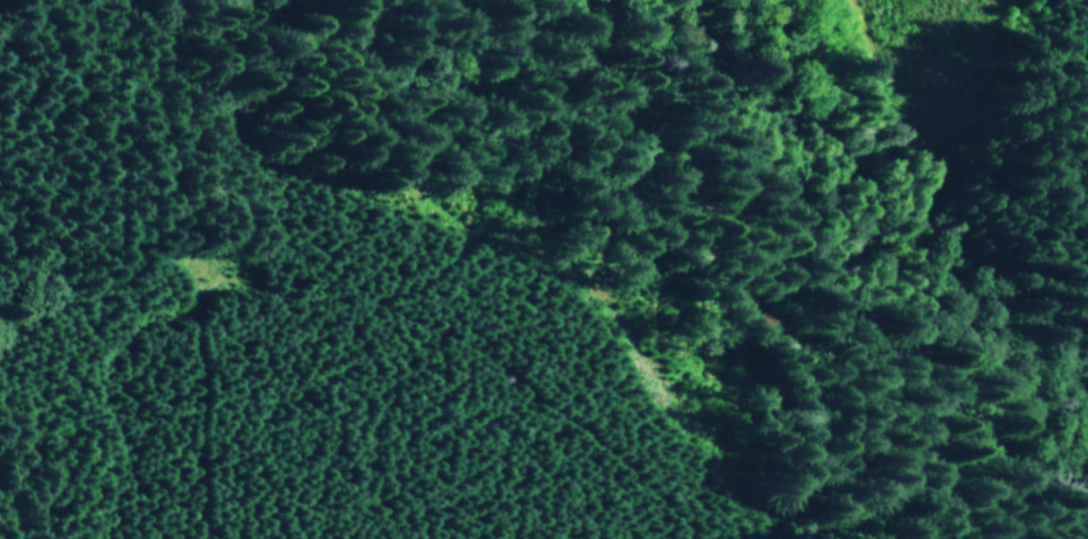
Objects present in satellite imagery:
road: (912, 187)

